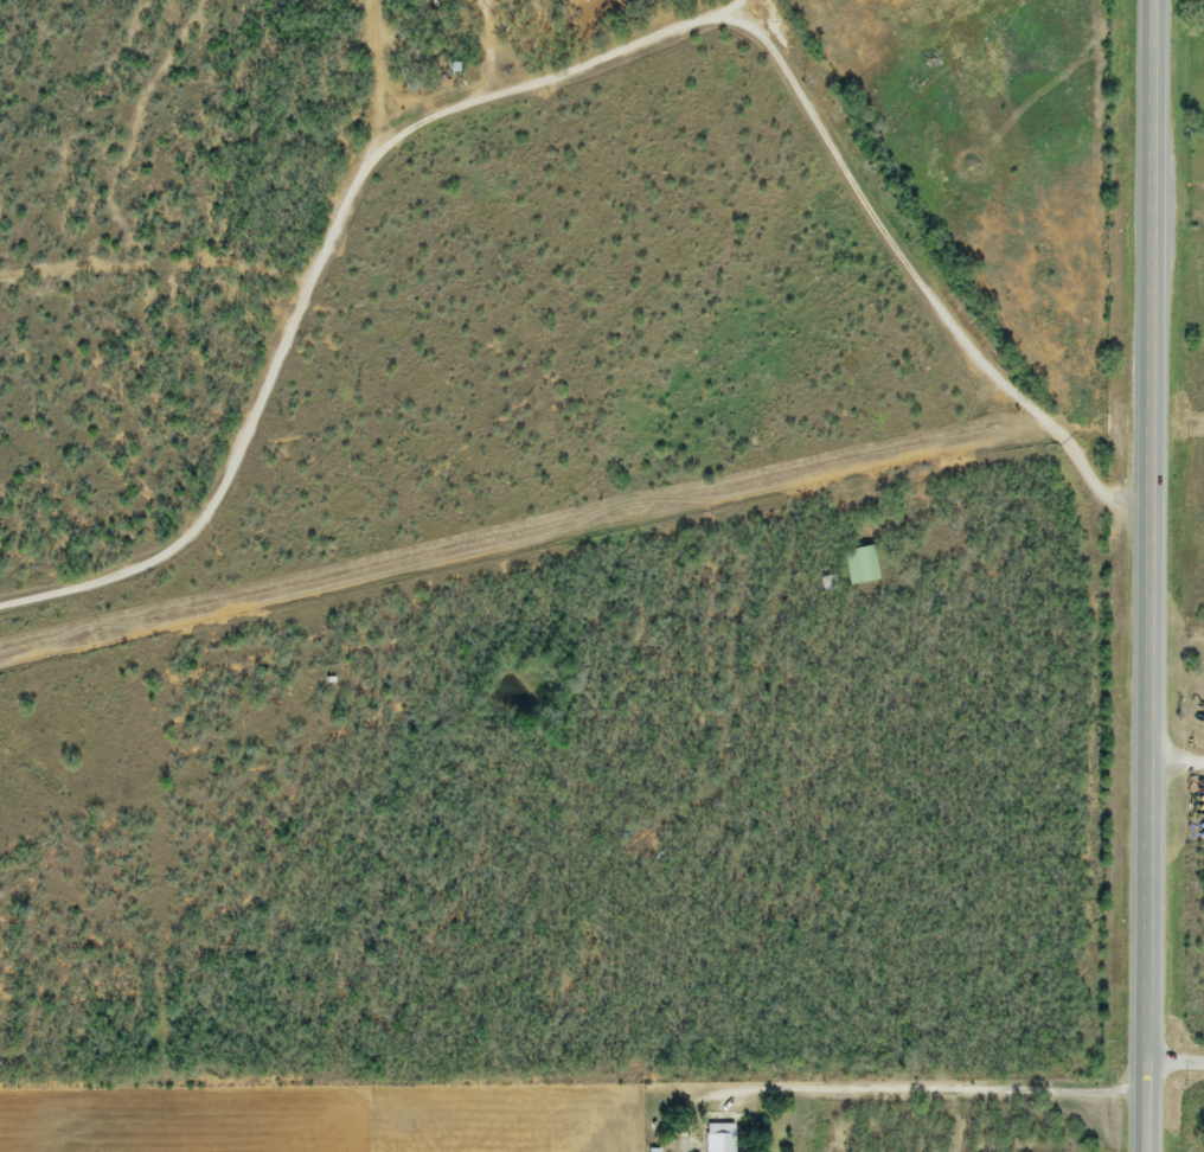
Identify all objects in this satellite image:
road: (325, 265)
road: (923, 286)
building: (859, 567)
road: (1165, 576)
road: (1181, 1055)
road: (930, 1096)
building: (717, 1143)

